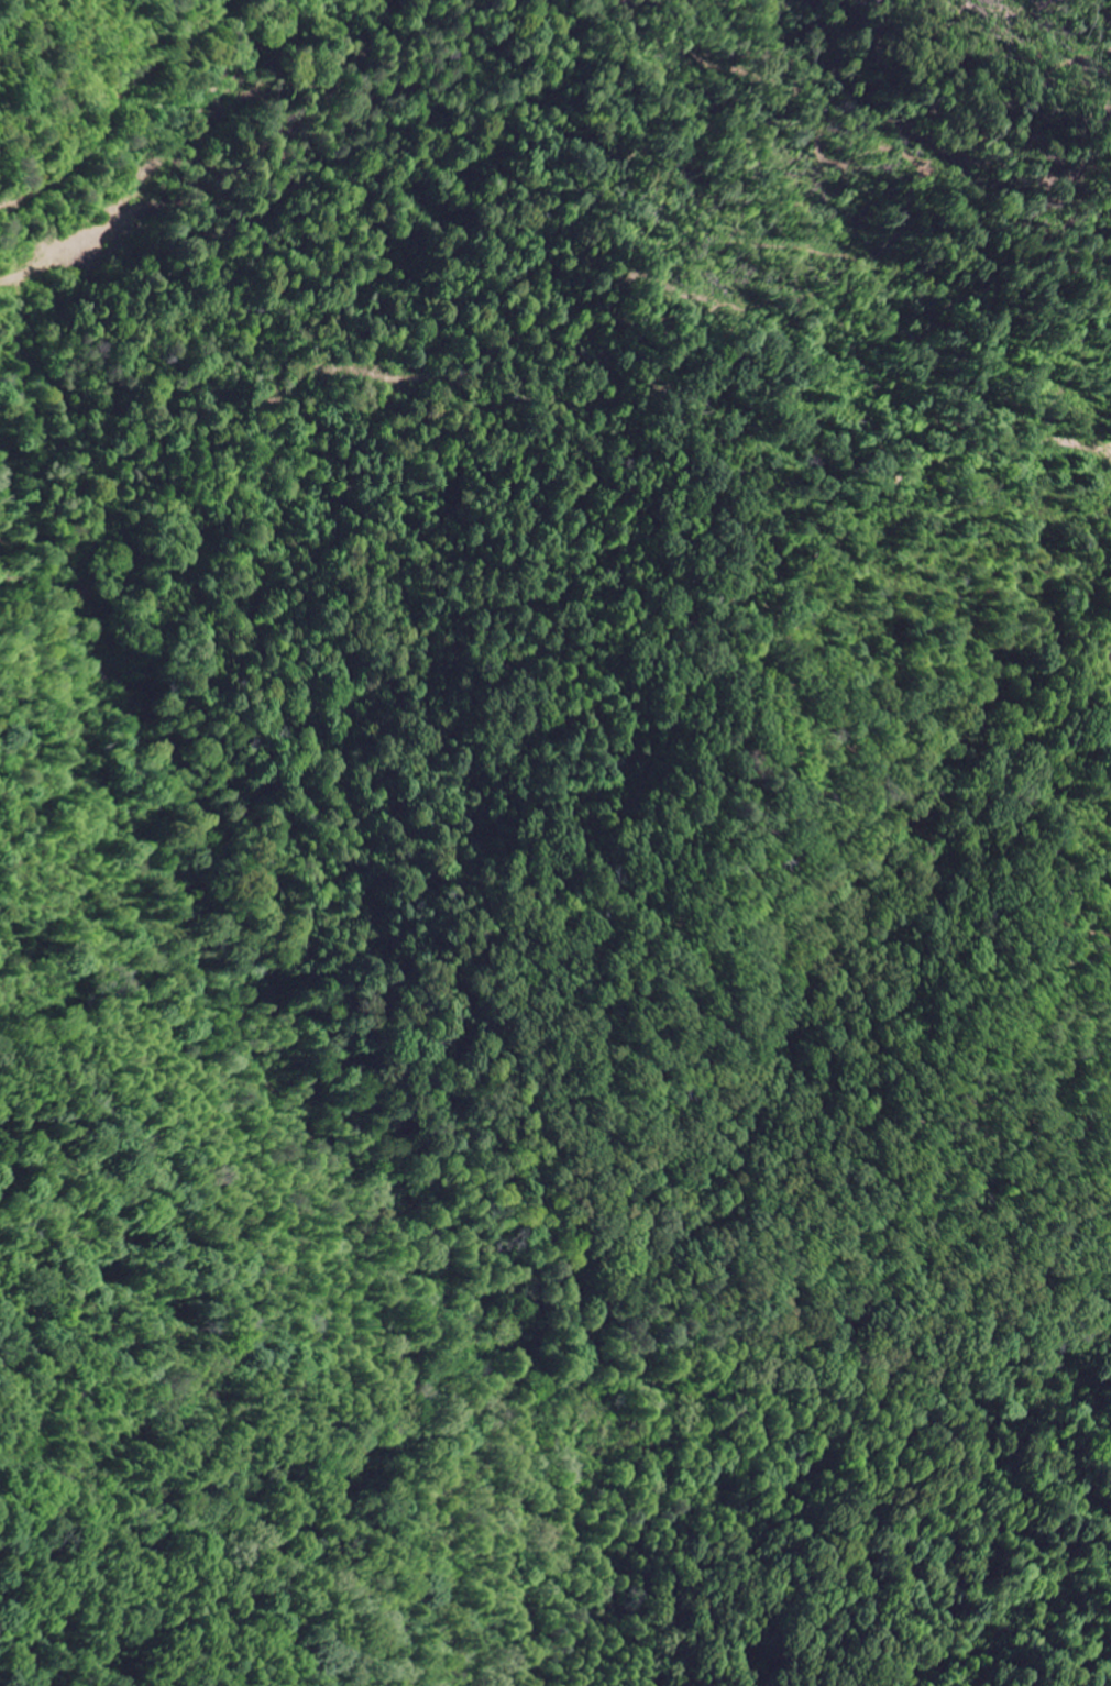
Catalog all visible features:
road: (112, 104)

